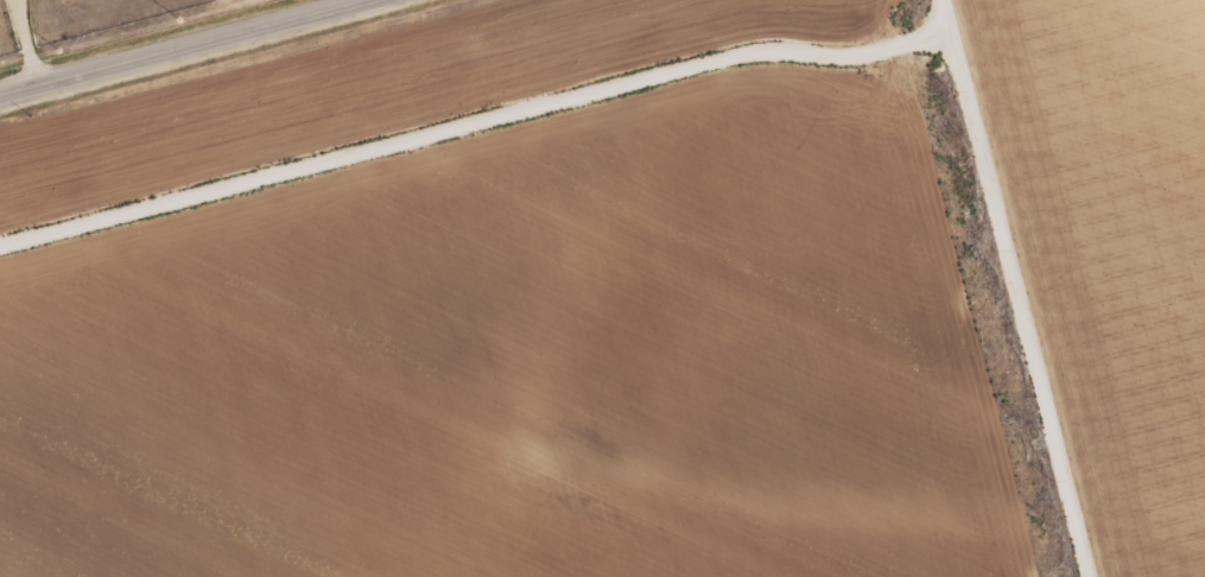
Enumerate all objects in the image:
road: (182, 46)
road: (1017, 287)

